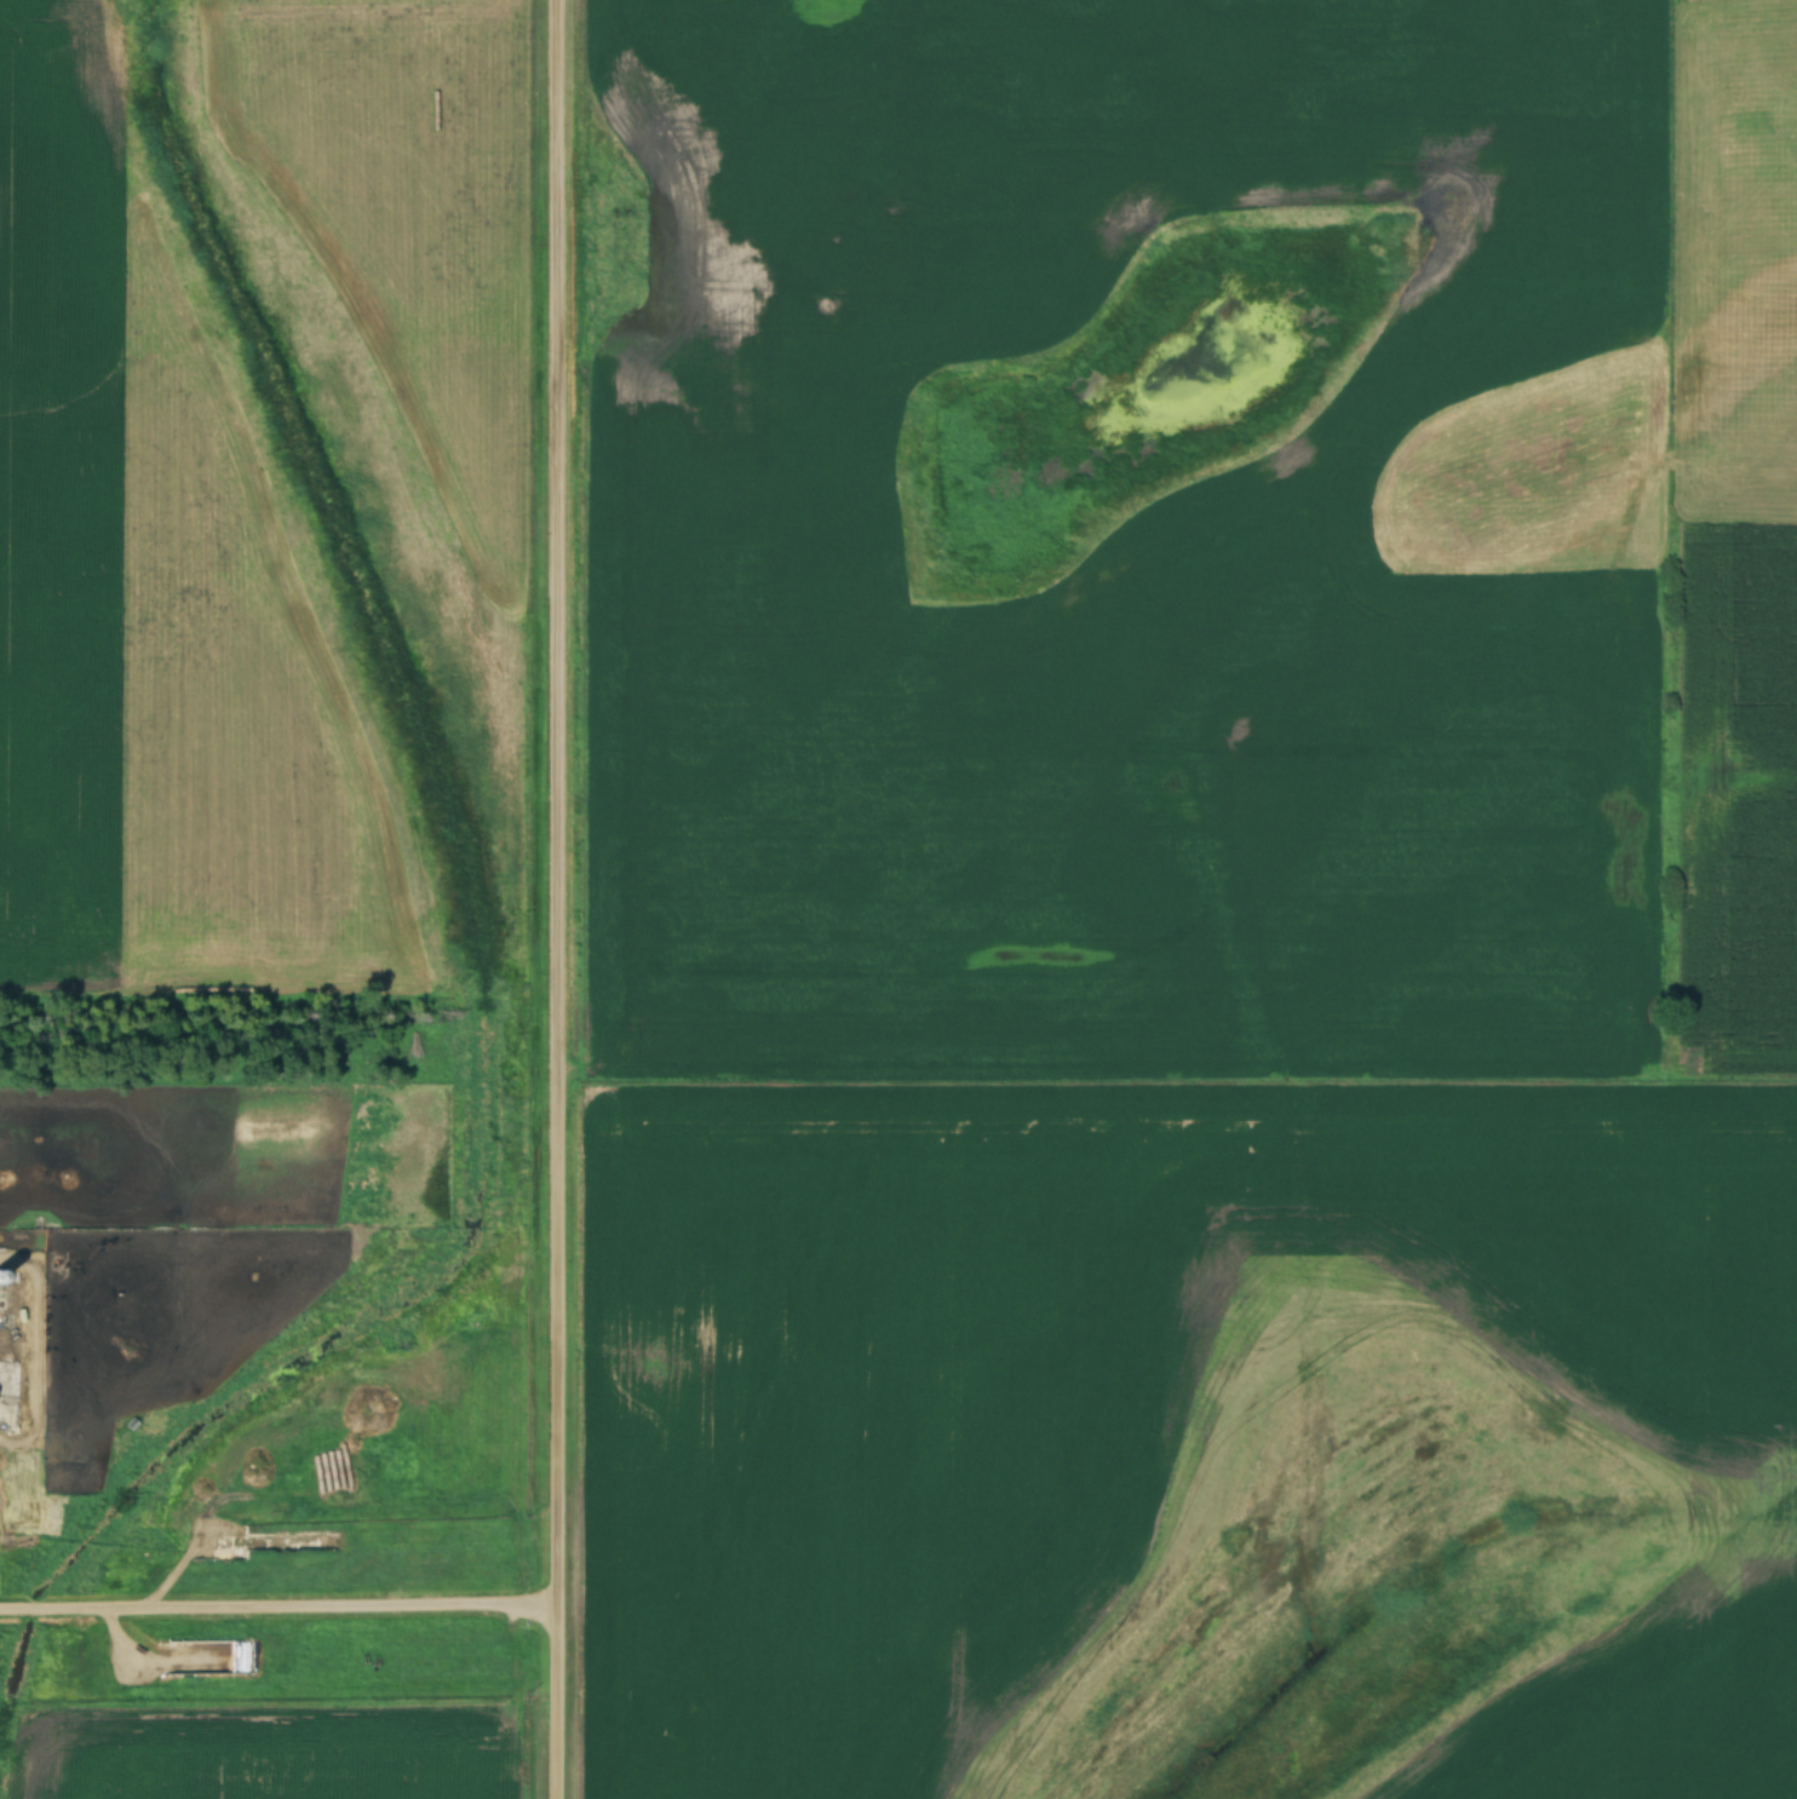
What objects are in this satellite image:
road: (553, 899)
road: (28, 1353)
road: (276, 1607)

